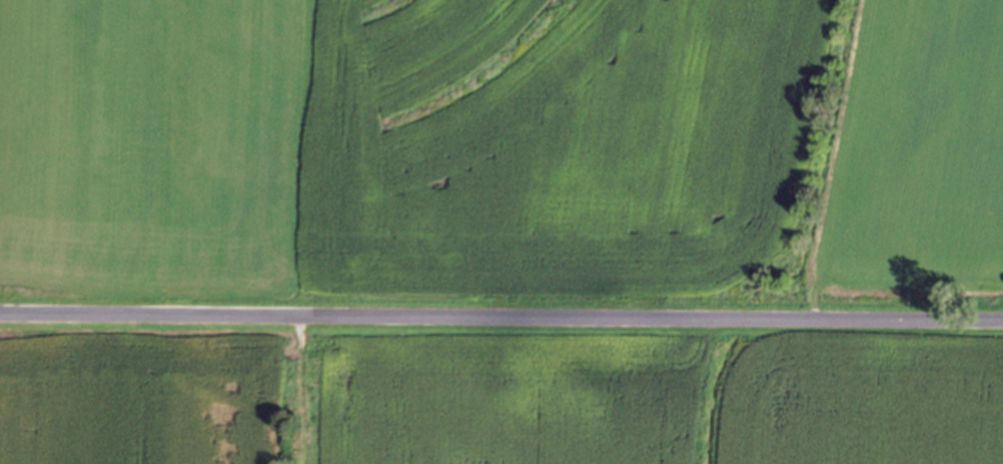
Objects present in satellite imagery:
road: (501, 319)
road: (315, 390)

